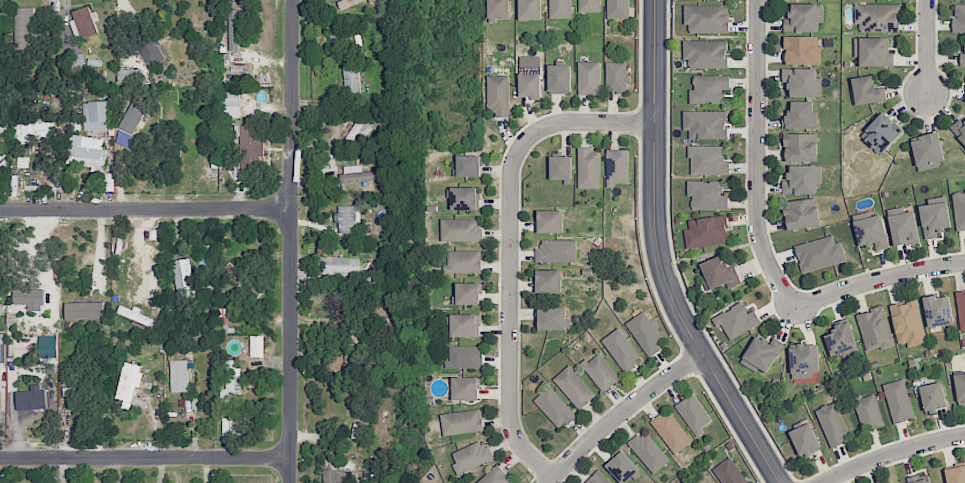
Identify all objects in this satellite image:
building: (347, 3)
building: (589, 6)
building: (559, 8)
building: (498, 9)
building: (530, 9)
building: (617, 9)
building: (877, 17)
building: (707, 18)
building: (804, 18)
building: (959, 18)
building: (83, 21)
building: (24, 26)
building: (235, 28)
road: (928, 46)
building: (801, 49)
building: (153, 51)
building: (872, 52)
building: (705, 54)
building: (962, 59)
building: (77, 61)
building: (132, 76)
building: (616, 76)
building: (351, 77)
building: (559, 78)
building: (589, 78)
building: (802, 82)
building: (530, 85)
building: (709, 89)
building: (866, 90)
building: (498, 95)
building: (231, 104)
building: (94, 116)
building: (800, 116)
building: (705, 124)
building: (359, 127)
building: (959, 129)
building: (1, 130)
building: (34, 131)
building: (881, 133)
building: (251, 146)
building: (800, 146)
building: (928, 151)
building: (86, 152)
road: (758, 156)
building: (708, 160)
building: (468, 165)
building: (617, 166)
building: (561, 167)
building: (588, 168)
building: (361, 174)
building: (802, 179)
building: (707, 195)
building: (464, 198)
road: (145, 208)
building: (959, 209)
building: (802, 213)
building: (347, 218)
building: (934, 218)
building: (550, 221)
building: (903, 226)
building: (460, 230)
building: (707, 231)
building: (871, 232)
road: (291, 241)
road: (510, 249)
building: (557, 249)
road: (149, 253)
building: (819, 253)
road: (659, 256)
building: (463, 261)
building: (339, 265)
building: (719, 273)
building: (183, 278)
road: (879, 280)
building: (549, 281)
building: (466, 294)
building: (28, 296)
building: (961, 308)
building: (84, 310)
building: (938, 310)
building: (551, 318)
building: (736, 320)
building: (907, 323)
building: (465, 325)
building: (875, 329)
building: (645, 333)
building: (840, 339)
building: (48, 346)
building: (256, 346)
building: (621, 349)
building: (762, 353)
building: (464, 357)
building: (803, 361)
building: (600, 372)
building: (180, 375)
building: (231, 386)
building: (130, 387)
building: (574, 387)
building: (465, 388)
building: (960, 388)
building: (932, 397)
building: (31, 399)
building: (898, 400)
building: (554, 407)
road: (622, 413)
building: (694, 413)
building: (868, 413)
building: (461, 422)
building: (832, 424)
building: (231, 427)
building: (671, 431)
building: (805, 440)
building: (649, 452)
road: (893, 453)
building: (471, 456)
road: (146, 458)
building: (621, 466)
building: (729, 472)
building: (955, 474)
building: (333, 476)
building: (495, 476)
building: (597, 478)
building: (919, 479)

